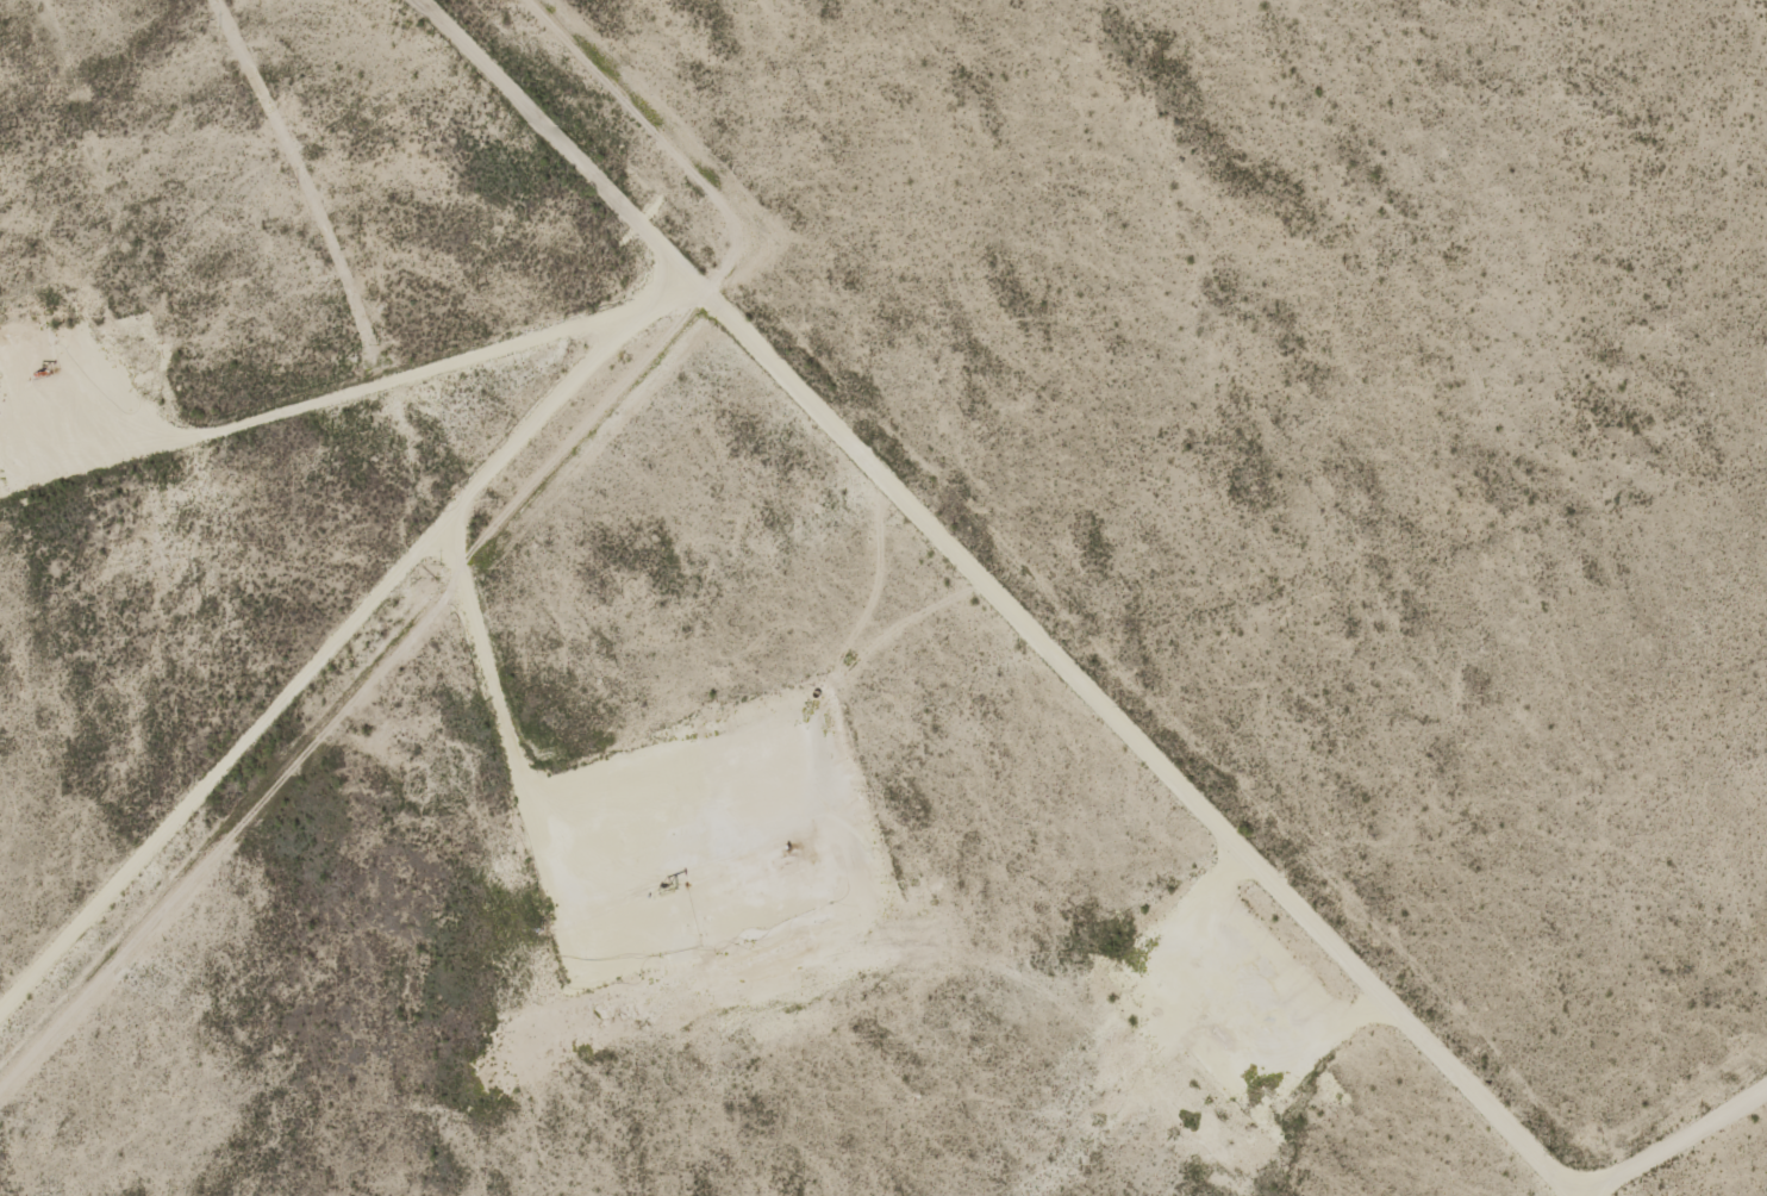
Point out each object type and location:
road: (548, 126)
road: (778, 362)
road: (1667, 1128)

